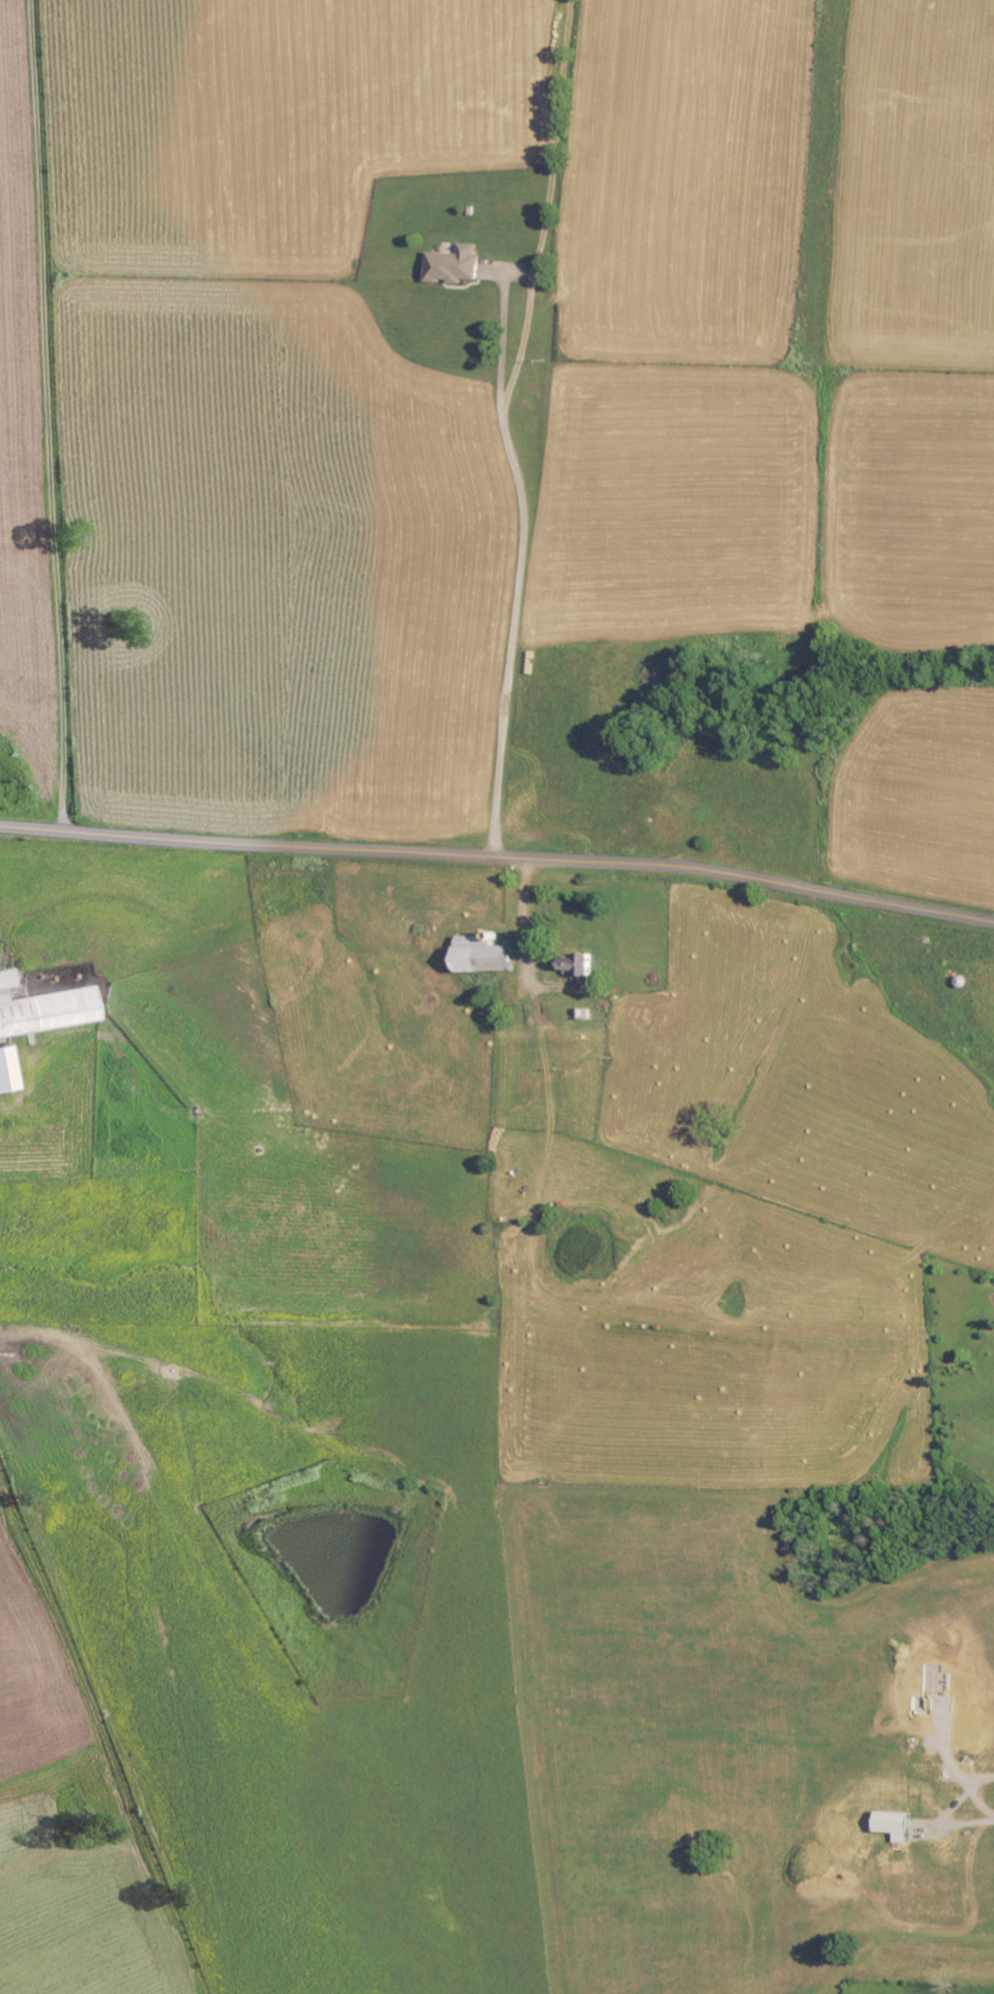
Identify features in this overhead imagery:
building: (457, 266)
road: (51, 414)
road: (504, 425)
road: (499, 855)
building: (486, 956)
building: (583, 970)
building: (8, 981)
building: (48, 1013)
building: (9, 1071)
road: (971, 1786)
building: (897, 1826)

